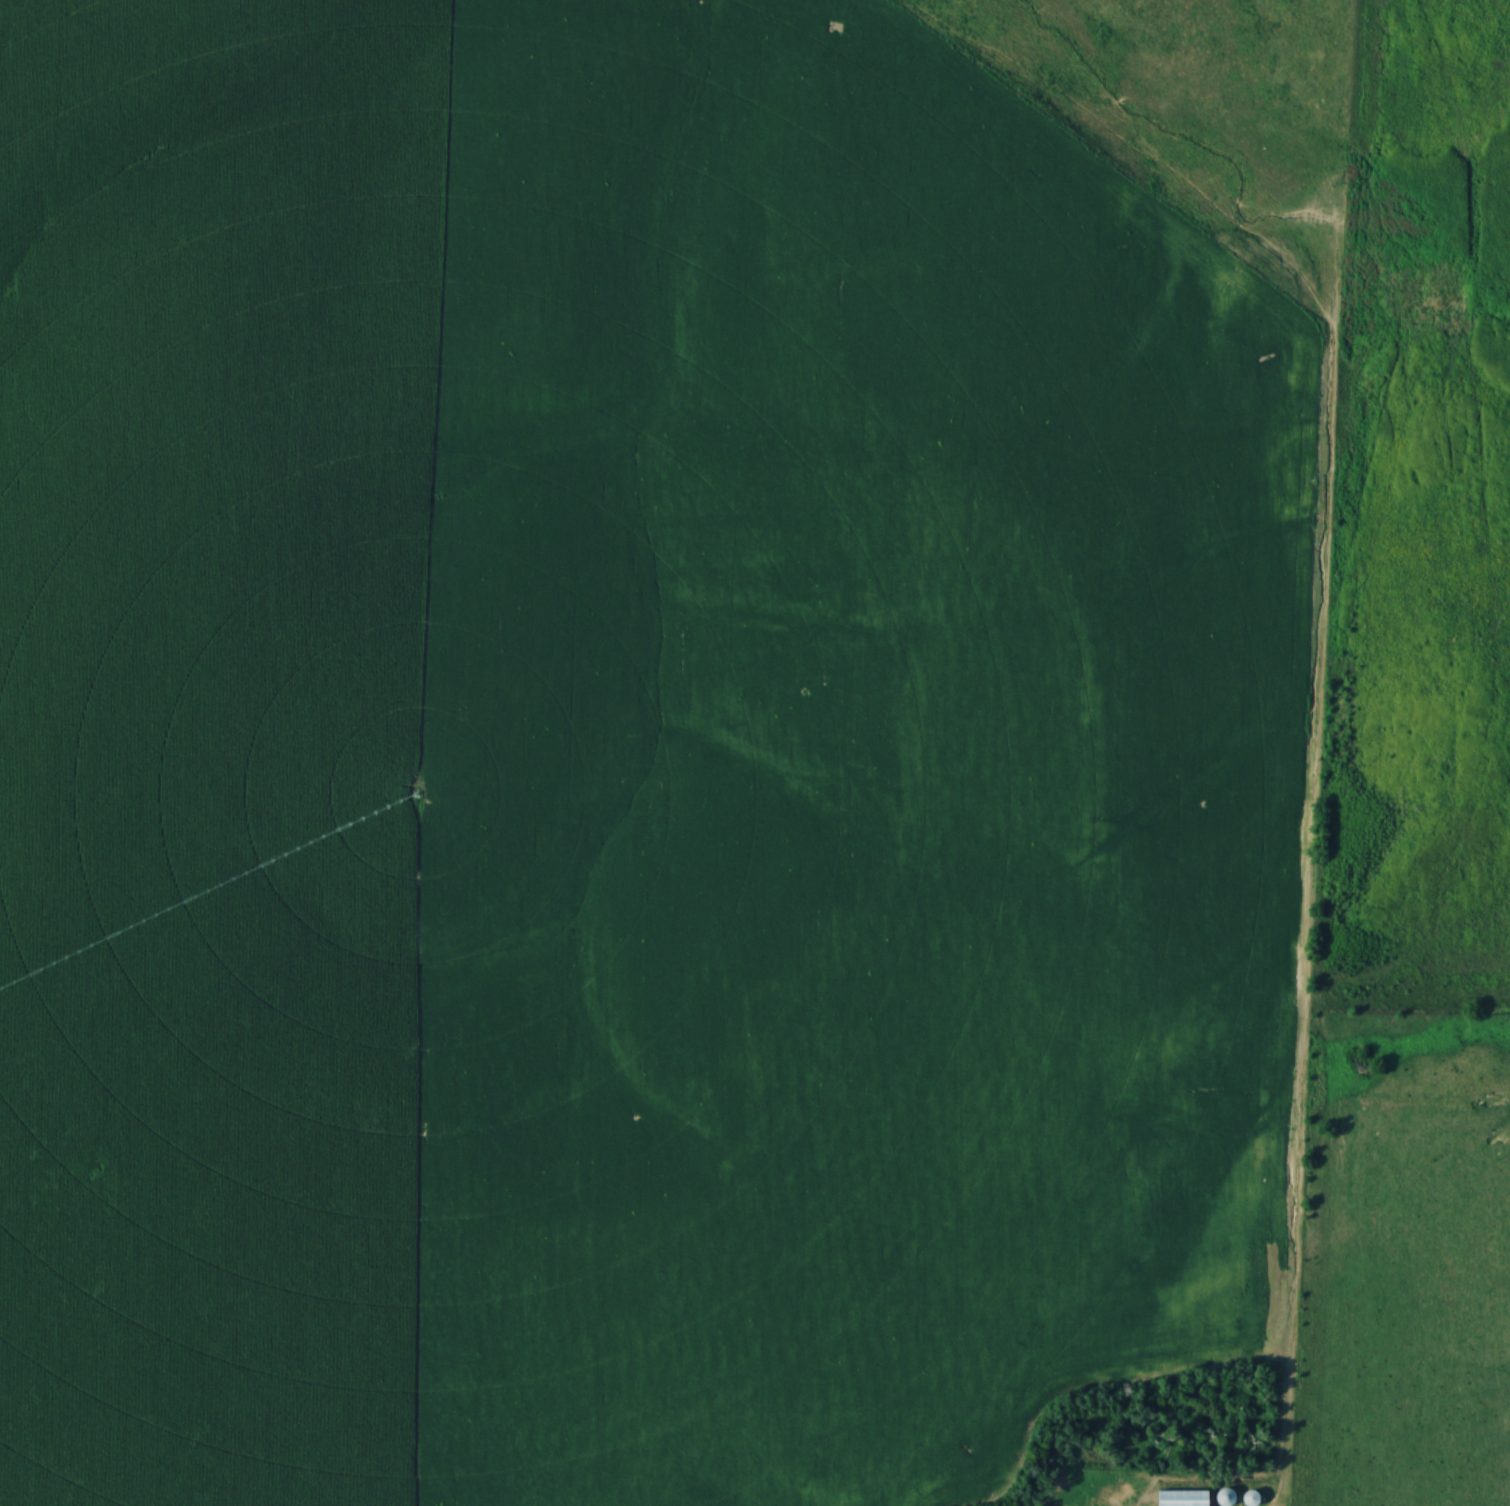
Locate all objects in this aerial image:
building: (1225, 1497)
building: (1182, 1498)
building: (1250, 1499)

